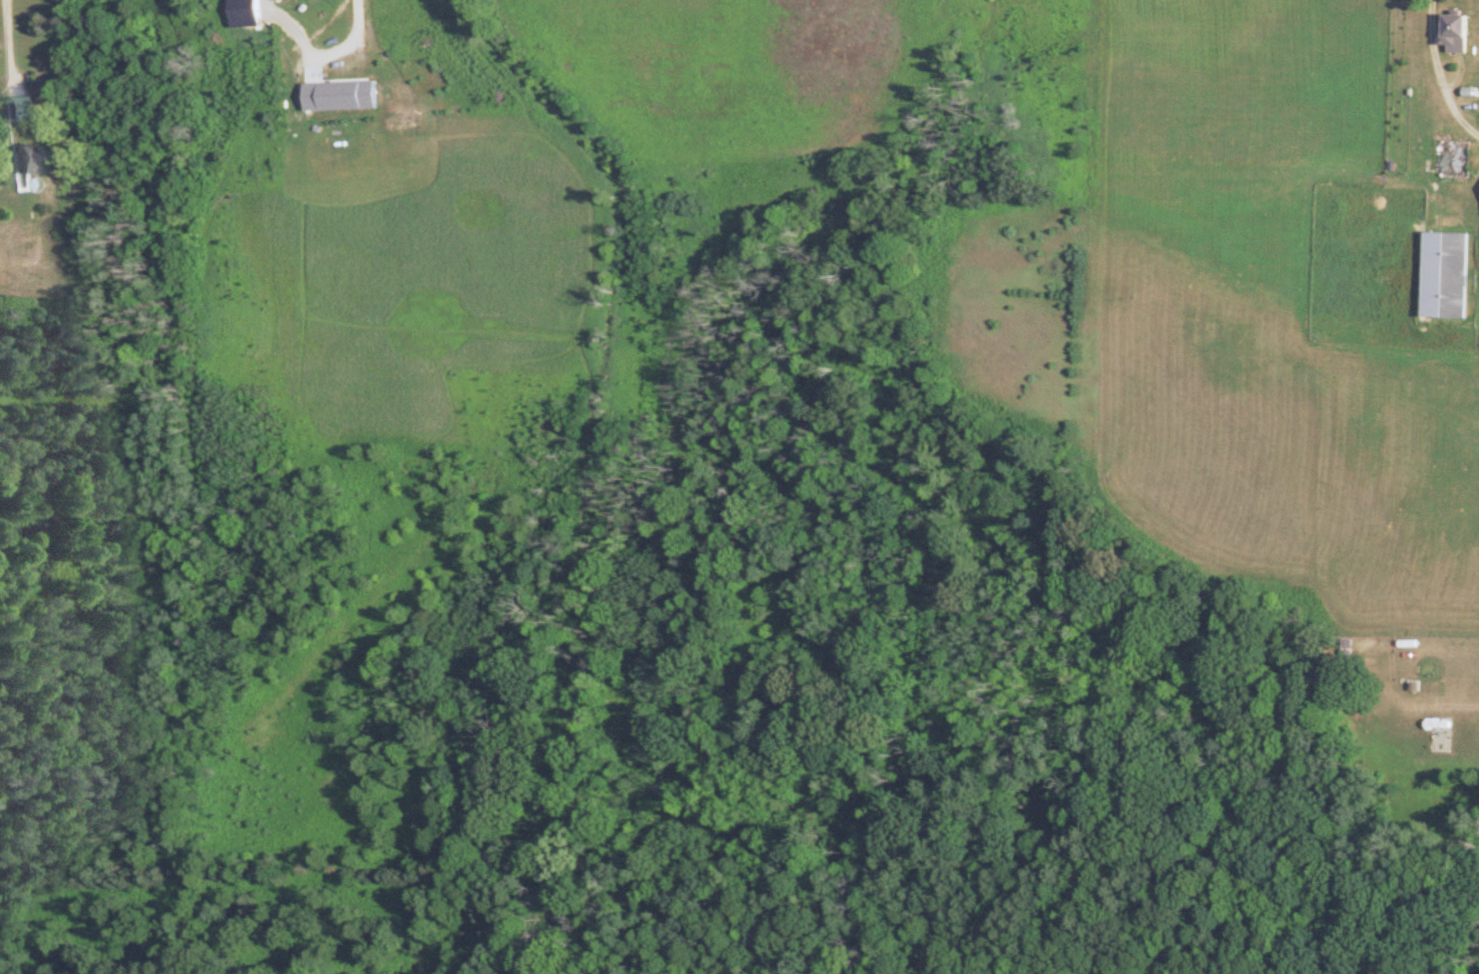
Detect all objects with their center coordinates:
building: (1449, 33)
road: (352, 35)
road: (6, 41)
road: (1436, 74)
building: (21, 159)
building: (1439, 275)
road: (1449, 701)

